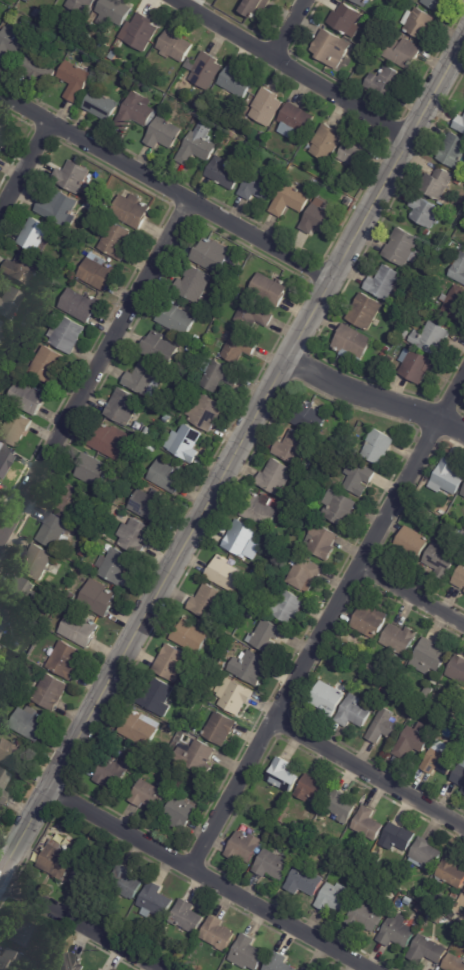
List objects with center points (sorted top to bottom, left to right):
building: (15, 0)
building: (362, 2)
building: (437, 3)
building: (85, 7)
building: (256, 7)
building: (115, 10)
building: (37, 13)
building: (344, 18)
building: (419, 24)
road: (293, 31)
building: (140, 32)
building: (74, 38)
building: (13, 42)
building: (175, 46)
building: (331, 48)
building: (402, 52)
building: (113, 55)
building: (38, 68)
road: (287, 69)
building: (204, 70)
building: (74, 80)
building: (236, 82)
building: (386, 82)
building: (166, 89)
building: (197, 104)
building: (101, 105)
building: (267, 107)
building: (134, 112)
building: (295, 121)
building: (460, 124)
building: (164, 134)
building: (261, 135)
building: (3, 136)
building: (219, 136)
building: (326, 142)
building: (198, 145)
building: (453, 152)
building: (353, 153)
road: (26, 170)
building: (226, 172)
building: (71, 176)
building: (437, 183)
building: (258, 184)
road: (161, 187)
building: (290, 200)
building: (349, 201)
building: (458, 205)
building: (57, 208)
building: (132, 211)
building: (426, 212)
building: (318, 219)
building: (94, 225)
building: (33, 234)
building: (115, 240)
building: (402, 247)
building: (212, 255)
building: (20, 267)
building: (236, 267)
building: (459, 270)
building: (97, 273)
building: (385, 283)
building: (194, 284)
building: (225, 287)
building: (270, 289)
building: (11, 303)
building: (455, 303)
building: (78, 305)
building: (366, 311)
building: (422, 313)
building: (253, 315)
building: (176, 318)
building: (3, 329)
building: (405, 333)
building: (66, 334)
building: (433, 339)
building: (353, 344)
building: (239, 346)
building: (160, 348)
building: (386, 350)
building: (383, 356)
building: (390, 360)
building: (47, 365)
building: (376, 365)
building: (419, 366)
road: (94, 371)
building: (181, 373)
building: (217, 375)
building: (143, 379)
road: (376, 397)
building: (28, 398)
building: (125, 409)
building: (204, 413)
building: (312, 418)
building: (16, 429)
building: (146, 433)
building: (109, 440)
building: (184, 443)
building: (295, 445)
building: (378, 445)
building: (150, 448)
road: (235, 455)
building: (5, 459)
building: (91, 471)
building: (168, 476)
building: (448, 476)
building: (276, 477)
building: (359, 477)
building: (463, 492)
building: (71, 501)
building: (150, 505)
building: (341, 507)
building: (258, 509)
building: (54, 532)
building: (135, 536)
building: (241, 538)
building: (321, 541)
building: (415, 542)
building: (80, 554)
building: (443, 558)
building: (36, 563)
building: (115, 567)
building: (304, 571)
building: (225, 572)
building: (460, 578)
building: (55, 590)
building: (21, 594)
road: (411, 595)
building: (98, 598)
building: (208, 601)
building: (288, 606)
building: (249, 614)
building: (4, 619)
road: (329, 620)
building: (371, 621)
building: (80, 631)
building: (266, 634)
building: (190, 635)
building: (400, 638)
building: (0, 648)
building: (331, 655)
building: (430, 655)
building: (64, 661)
building: (171, 662)
building: (222, 663)
building: (250, 666)
building: (457, 668)
building: (15, 669)
building: (331, 669)
building: (436, 679)
building: (392, 680)
building: (8, 681)
building: (383, 688)
building: (1, 689)
building: (428, 692)
building: (47, 693)
building: (156, 695)
building: (234, 695)
building: (11, 696)
building: (328, 697)
building: (354, 711)
building: (28, 724)
building: (383, 726)
building: (194, 727)
building: (219, 727)
building: (138, 728)
building: (461, 734)
building: (415, 739)
building: (195, 753)
building: (13, 756)
building: (440, 760)
building: (111, 772)
building: (283, 774)
building: (459, 776)
road: (369, 778)
building: (3, 786)
building: (313, 789)
building: (463, 791)
building: (149, 795)
building: (341, 805)
building: (181, 811)
building: (368, 823)
building: (94, 837)
building: (398, 838)
building: (104, 842)
building: (244, 846)
building: (122, 851)
building: (426, 854)
building: (334, 857)
building: (361, 857)
building: (56, 860)
building: (273, 865)
building: (451, 871)
building: (78, 879)
road: (207, 880)
building: (305, 880)
building: (125, 882)
building: (463, 891)
building: (453, 897)
building: (337, 899)
building: (155, 901)
building: (409, 901)
building: (398, 902)
building: (424, 909)
building: (368, 915)
building: (187, 916)
building: (436, 916)
road: (83, 920)
building: (27, 933)
building: (218, 933)
building: (397, 933)
building: (427, 950)
building: (248, 952)
building: (9, 959)
building: (67, 962)
building: (279, 962)
building: (454, 963)
building: (307, 968)
building: (89, 969)
building: (304, 969)

